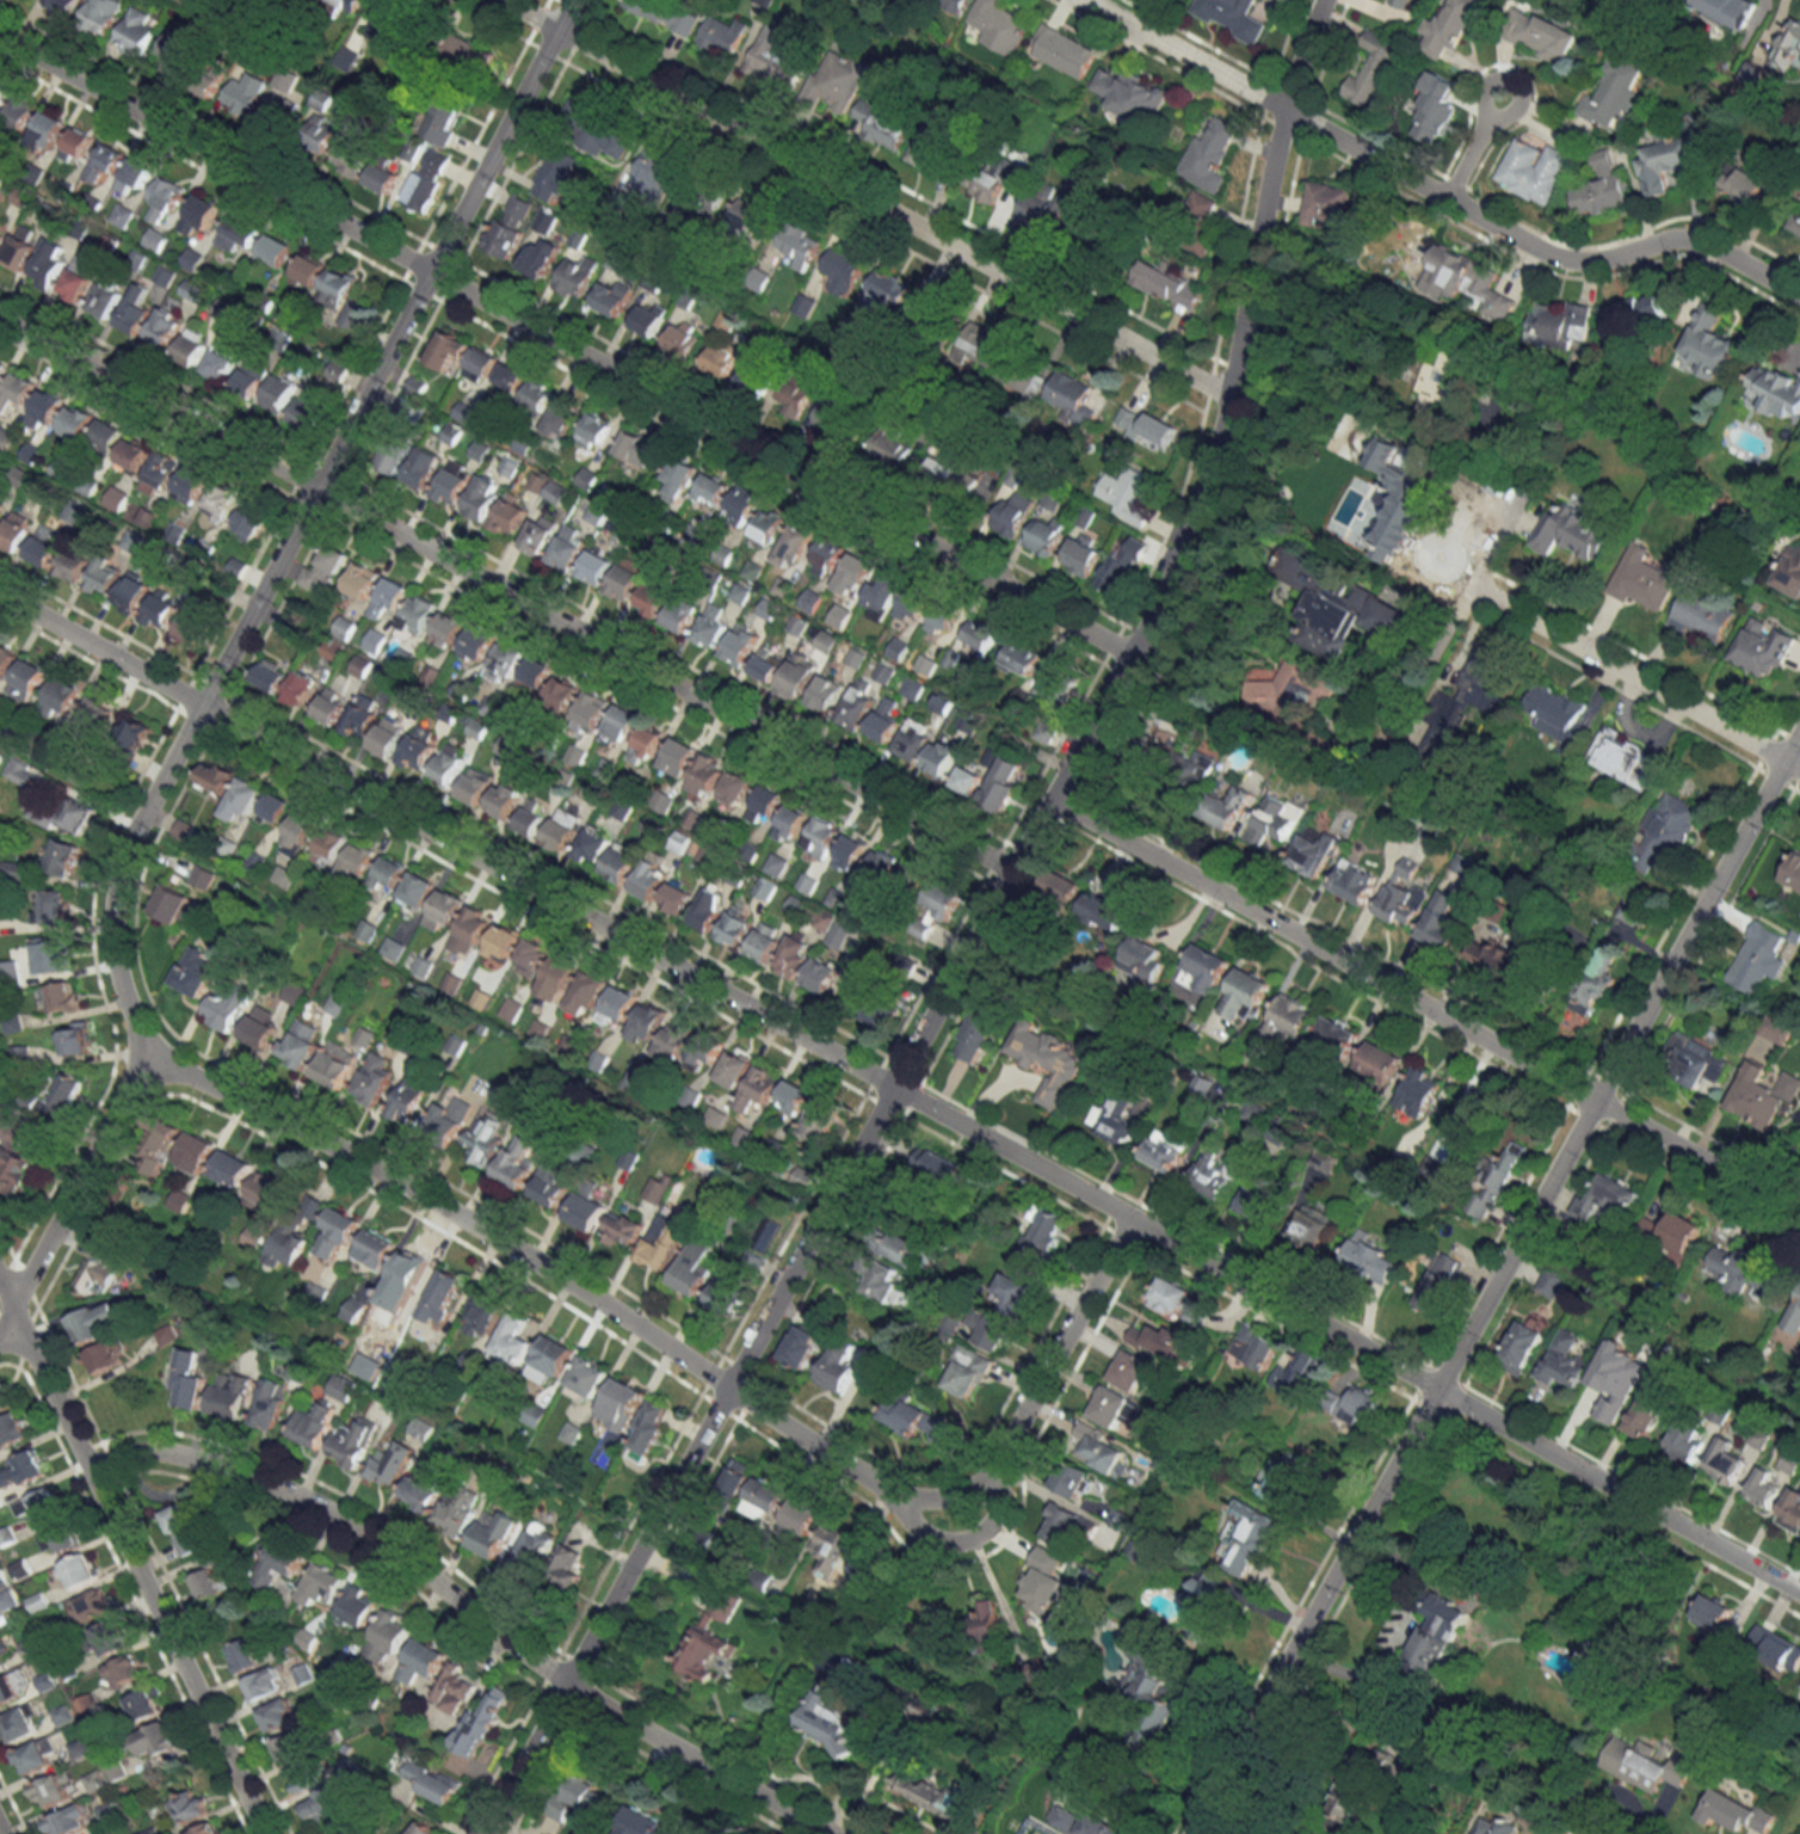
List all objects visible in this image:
building: (764, 2)
building: (1399, 2)
building: (347, 4)
building: (951, 4)
building: (60, 5)
building: (1726, 11)
building: (665, 13)
building: (1231, 14)
building: (101, 16)
building: (389, 25)
building: (998, 25)
building: (1450, 27)
building: (135, 32)
building: (722, 36)
building: (1542, 36)
building: (1790, 43)
building: (466, 51)
building: (1061, 51)
building: (174, 53)
building: (346, 59)
building: (775, 61)
building: (1371, 68)
building: (206, 76)
building: (285, 79)
building: (837, 80)
building: (244, 93)
building: (1130, 94)
building: (1613, 96)
building: (321, 99)
building: (18, 111)
building: (276, 117)
building: (1431, 118)
building: (882, 125)
building: (47, 130)
building: (596, 131)
building: (316, 136)
road: (1473, 143)
building: (76, 146)
building: (1208, 155)
building: (350, 156)
building: (937, 156)
building: (103, 162)
building: (1666, 162)
building: (1535, 171)
building: (654, 173)
building: (554, 174)
building: (0, 177)
building: (383, 177)
building: (997, 178)
building: (427, 180)
building: (1743, 185)
building: (1602, 186)
road: (1437, 190)
building: (704, 196)
building: (165, 198)
building: (1325, 203)
building: (1042, 207)
building: (198, 215)
building: (122, 216)
building: (752, 217)
building: (1796, 222)
building: (544, 223)
building: (508, 224)
road: (925, 230)
building: (2, 232)
building: (238, 233)
building: (1099, 236)
building: (154, 239)
building: (800, 247)
building: (19, 250)
building: (276, 250)
building: (541, 257)
building: (48, 264)
building: (307, 271)
building: (843, 271)
building: (577, 277)
building: (78, 278)
building: (1466, 279)
building: (1167, 285)
building: (337, 288)
building: (888, 288)
building: (191, 290)
building: (105, 297)
building: (612, 297)
building: (135, 310)
building: (931, 312)
building: (1635, 312)
building: (351, 318)
building: (649, 319)
building: (726, 320)
building: (1556, 325)
building: (1314, 326)
building: (164, 328)
building: (683, 338)
road: (566, 343)
building: (1710, 343)
building: (980, 344)
building: (191, 346)
building: (448, 351)
building: (720, 358)
building: (220, 362)
building: (480, 365)
building: (1, 367)
building: (251, 377)
building: (1023, 377)
building: (1444, 377)
building: (754, 379)
building: (507, 384)
building: (415, 386)
building: (16, 390)
building: (795, 392)
building: (1777, 392)
building: (278, 393)
building: (537, 398)
building: (1072, 398)
building: (44, 407)
building: (308, 416)
building: (832, 420)
building: (75, 423)
building: (560, 423)
building: (1146, 427)
building: (596, 429)
building: (104, 441)
building: (892, 444)
building: (636, 447)
building: (132, 456)
building: (393, 456)
building: (421, 472)
building: (160, 473)
building: (958, 473)
building: (587, 478)
building: (678, 478)
building: (452, 484)
building: (191, 485)
building: (713, 490)
building: (1127, 494)
building: (482, 497)
building: (117, 498)
building: (218, 501)
building: (741, 506)
building: (1, 507)
building: (74, 511)
building: (1012, 512)
building: (510, 515)
road: (300, 516)
building: (251, 519)
building: (768, 524)
building: (14, 531)
building: (1573, 531)
building: (540, 534)
building: (695, 536)
building: (1046, 536)
building: (793, 546)
building: (43, 547)
building: (568, 547)
building: (1081, 555)
building: (825, 558)
building: (72, 566)
building: (596, 566)
building: (1122, 566)
road: (1171, 567)
building: (323, 568)
building: (1789, 572)
building: (853, 574)
building: (103, 576)
building: (625, 578)
road: (1475, 579)
building: (360, 580)
building: (1644, 580)
road: (505, 591)
building: (132, 592)
building: (740, 593)
building: (881, 596)
building: (389, 597)
building: (653, 599)
building: (810, 601)
building: (912, 604)
building: (1337, 607)
building: (160, 609)
building: (766, 609)
building: (682, 614)
building: (839, 616)
building: (1701, 616)
building: (417, 617)
building: (942, 617)
building: (710, 627)
building: (191, 628)
building: (446, 630)
building: (980, 634)
building: (339, 638)
building: (374, 641)
building: (827, 641)
building: (476, 644)
building: (740, 645)
building: (898, 648)
building: (1763, 648)
building: (1022, 657)
building: (6, 659)
building: (503, 664)
building: (766, 665)
building: (926, 665)
building: (360, 666)
building: (883, 672)
building: (270, 676)
building: (797, 676)
building: (534, 677)
building: (26, 679)
road: (1635, 679)
building: (1059, 683)
building: (301, 688)
building: (912, 688)
building: (1289, 693)
building: (562, 694)
building: (825, 694)
building: (60, 697)
building: (943, 703)
building: (1463, 703)
building: (331, 706)
building: (857, 706)
building: (591, 710)
building: (1556, 714)
building: (97, 715)
building: (362, 715)
building: (884, 721)
building: (968, 721)
building: (619, 726)
building: (136, 733)
building: (389, 734)
building: (913, 739)
building: (646, 745)
building: (419, 746)
building: (1145, 747)
building: (678, 757)
building: (941, 757)
building: (1626, 759)
building: (448, 763)
building: (23, 773)
building: (705, 775)
building: (215, 776)
building: (967, 778)
building: (1003, 783)
building: (475, 786)
building: (735, 788)
building: (244, 795)
building: (504, 799)
building: (661, 800)
building: (765, 801)
building: (275, 807)
building: (1229, 808)
building: (64, 813)
building: (530, 819)
building: (1274, 820)
building: (790, 823)
building: (562, 830)
building: (1665, 830)
building: (297, 833)
building: (821, 837)
road: (445, 841)
building: (329, 845)
building: (592, 845)
building: (1314, 850)
building: (851, 851)
building: (60, 856)
building: (356, 862)
building: (619, 862)
building: (777, 864)
building: (883, 864)
building: (12, 868)
building: (1793, 872)
building: (388, 874)
building: (735, 874)
building: (201, 876)
building: (651, 878)
building: (910, 878)
building: (1355, 881)
building: (1064, 885)
building: (765, 887)
building: (418, 888)
building: (1403, 896)
building: (676, 897)
building: (942, 901)
building: (173, 905)
building: (51, 907)
building: (444, 909)
building: (708, 909)
building: (1105, 911)
building: (1442, 922)
building: (736, 924)
building: (832, 928)
building: (470, 930)
building: (503, 942)
building: (765, 942)
building: (393, 948)
building: (49, 955)
building: (1144, 955)
building: (1758, 955)
building: (794, 956)
building: (531, 958)
building: (1494, 958)
building: (1204, 970)
building: (192, 972)
building: (821, 974)
building: (557, 978)
building: (1594, 983)
building: (1244, 995)
building: (585, 996)
building: (61, 997)
building: (617, 1003)
building: (226, 1005)
road: (1425, 1008)
building: (882, 1013)
building: (1290, 1018)
building: (646, 1023)
building: (260, 1027)
building: (1777, 1030)
building: (1336, 1035)
building: (73, 1038)
building: (975, 1038)
building: (674, 1040)
building: (301, 1042)
building: (703, 1052)
building: (1048, 1060)
building: (1697, 1060)
building: (1380, 1061)
building: (335, 1064)
building: (734, 1069)
building: (374, 1078)
building: (1203, 1083)
building: (68, 1090)
building: (759, 1090)
building: (1418, 1093)
building: (1763, 1094)
building: (794, 1097)
road: (1725, 1097)
building: (408, 1098)
building: (30, 1100)
building: (1253, 1112)
building: (449, 1120)
building: (821, 1121)
building: (1114, 1121)
building: (486, 1137)
building: (158, 1143)
building: (195, 1151)
building: (1165, 1151)
building: (16, 1158)
building: (1324, 1159)
building: (517, 1161)
building: (937, 1163)
building: (232, 1169)
building: (1214, 1176)
building: (555, 1178)
building: (1496, 1183)
road: (74, 1189)
building: (654, 1189)
building: (266, 1192)
building: (1608, 1198)
building: (180, 1200)
building: (1259, 1200)
building: (586, 1206)
building: (314, 1207)
building: (1312, 1225)
building: (339, 1229)
building: (623, 1229)
building: (253, 1235)
building: (1678, 1235)
building: (286, 1247)
building: (661, 1247)
building: (376, 1248)
building: (907, 1249)
building: (1369, 1257)
building: (692, 1268)
building: (99, 1270)
building: (1743, 1272)
building: (405, 1274)
building: (1438, 1281)
road: (1496, 1281)
building: (1552, 1281)
building: (884, 1284)
building: (727, 1290)
building: (1010, 1292)
building: (439, 1297)
building: (1175, 1300)
building: (481, 1317)
building: (1795, 1317)
building: (97, 1321)
building: (991, 1329)
building: (1161, 1340)
road: (1346, 1340)
building: (512, 1343)
building: (803, 1344)
building: (1255, 1346)
building: (1522, 1346)
building: (105, 1356)
building: (550, 1359)
building: (1564, 1360)
road: (692, 1366)
building: (839, 1367)
building: (298, 1371)
building: (968, 1371)
building: (1134, 1371)
building: (1296, 1373)
building: (587, 1377)
building: (1617, 1378)
building: (189, 1379)
road: (728, 1386)
building: (343, 1387)
building: (232, 1395)
building: (4, 1399)
building: (271, 1404)
building: (619, 1404)
building: (1355, 1404)
building: (1114, 1407)
building: (534, 1415)
building: (1646, 1415)
building: (912, 1417)
building: (314, 1424)
building: (649, 1427)
building: (12, 1429)
building: (1684, 1439)
building: (353, 1441)
building: (1102, 1451)
building: (1725, 1457)
building: (390, 1464)
building: (21, 1469)
building: (1073, 1478)
building: (1281, 1482)
building: (735, 1483)
building: (425, 1489)
building: (1762, 1489)
building: (764, 1498)
building: (0, 1502)
building: (41, 1504)
building: (1790, 1512)
building: (456, 1513)
building: (801, 1516)
building: (1117, 1518)
building: (1061, 1525)
building: (181, 1530)
building: (494, 1534)
building: (60, 1537)
building: (1247, 1538)
road: (962, 1539)
building: (534, 1549)
building: (1136, 1549)
building: (832, 1550)
road: (134, 1558)
building: (279, 1564)
building: (567, 1565)
building: (79, 1571)
building: (868, 1573)
building: (1044, 1582)
building: (208, 1583)
building: (322, 1584)
building: (1204, 1586)
building: (918, 1596)
building: (91, 1605)
building: (358, 1607)
road: (469, 1612)
building: (1712, 1613)
building: (990, 1631)
road: (1399, 1632)
building: (388, 1636)
building: (711, 1637)
building: (1436, 1637)
building: (109, 1638)
building: (1775, 1649)
building: (4, 1650)
building: (246, 1655)
building: (421, 1662)
building: (124, 1670)
building: (265, 1684)
building: (1149, 1684)
building: (13, 1687)
building: (452, 1690)
building: (146, 1704)
building: (926, 1710)
building: (278, 1715)
road: (1334, 1715)
building: (19, 1724)
building: (481, 1724)
building: (831, 1724)
building: (156, 1740)
building: (288, 1747)
building: (36, 1755)
road: (520, 1759)
building: (1382, 1760)
building: (1644, 1765)
building: (304, 1777)
building: (432, 1781)
building: (53, 1790)
building: (931, 1795)
building: (582, 1799)
building: (1346, 1803)
building: (190, 1805)
building: (323, 1805)
building: (1734, 1811)
building: (70, 1820)
building: (1084, 1822)
building: (647, 1824)
building: (208, 1829)
building: (421, 1829)
road: (0, 1833)

